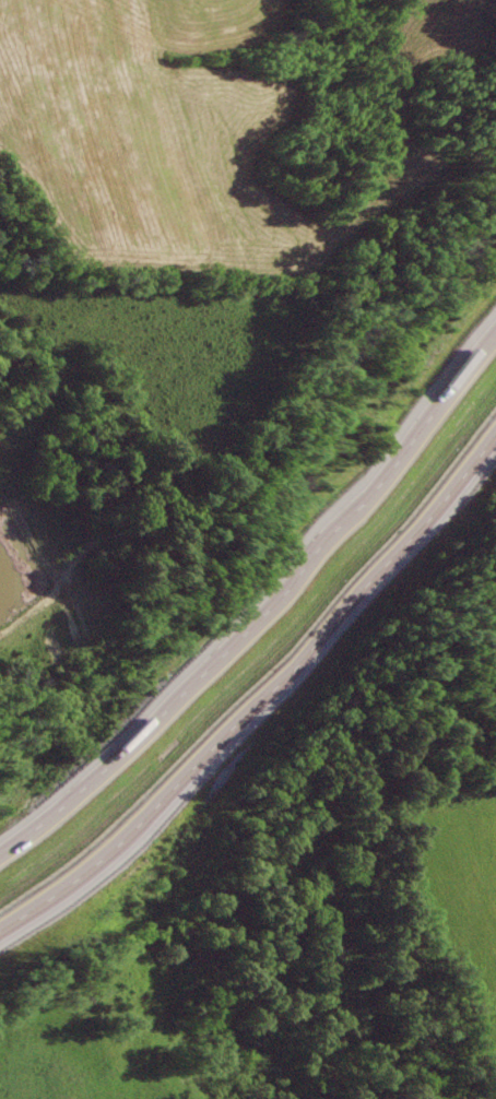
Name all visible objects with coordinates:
road: (260, 598)
road: (261, 702)

